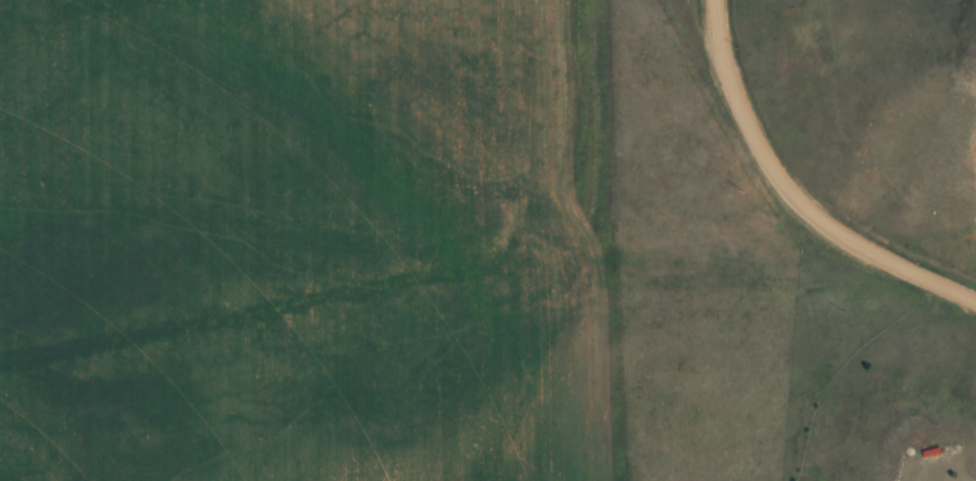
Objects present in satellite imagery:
road: (794, 193)
crop: (280, 232)

